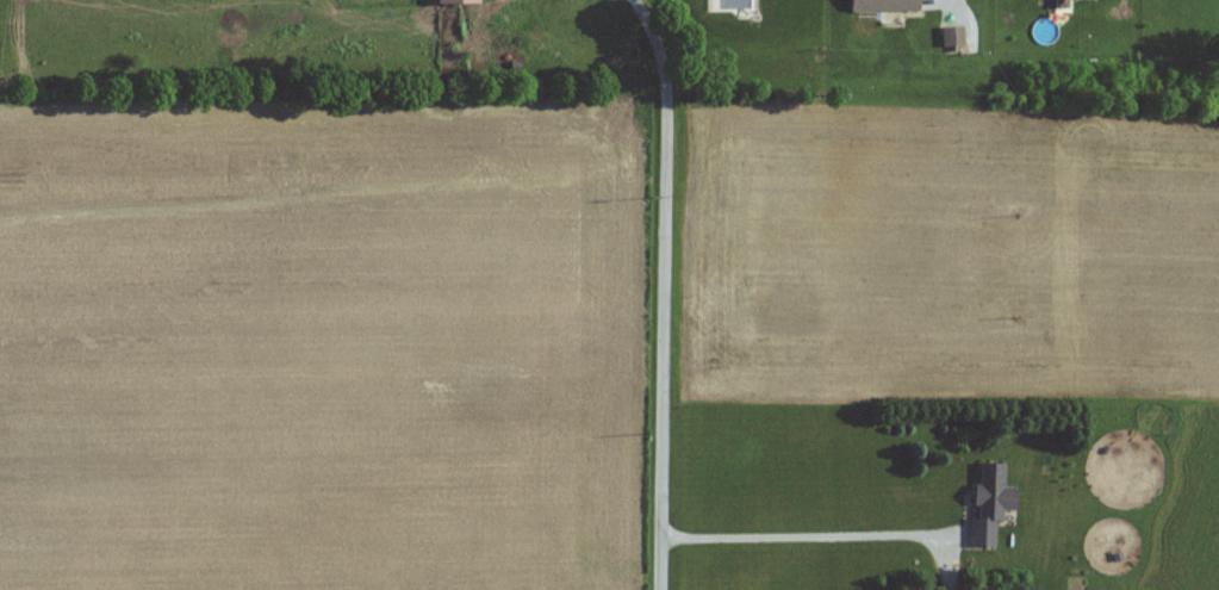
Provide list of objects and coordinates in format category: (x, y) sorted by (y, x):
building: (450, 2)
building: (1059, 4)
building: (882, 6)
building: (951, 37)
road: (665, 291)
building: (985, 503)
road: (827, 533)

